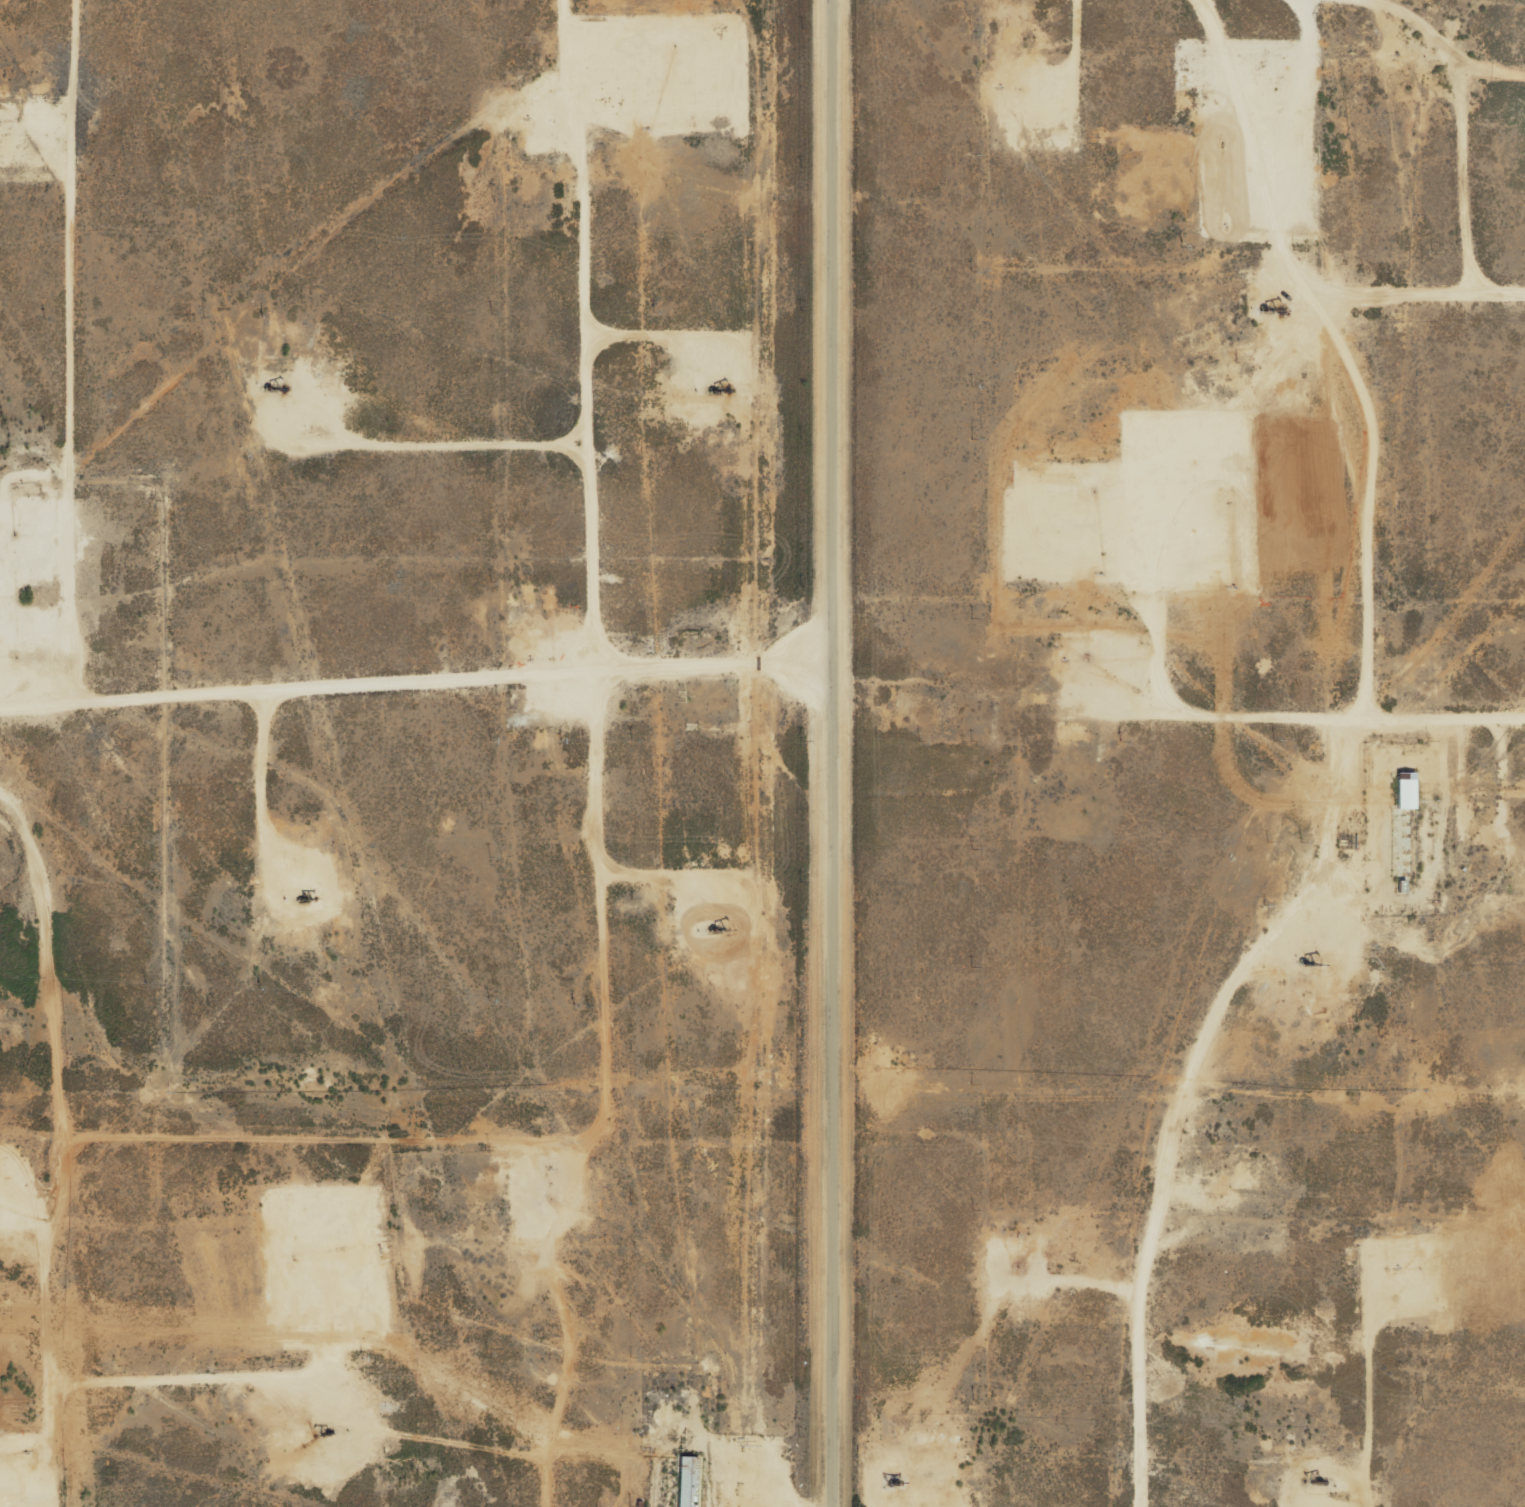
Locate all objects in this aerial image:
road: (1448, 54)
road: (70, 56)
road: (1473, 166)
road: (1434, 268)
road: (420, 677)
road: (1364, 707)
road: (824, 753)
building: (1403, 790)
road: (597, 852)
river: (261, 1010)
road: (43, 1106)
road: (573, 1321)

